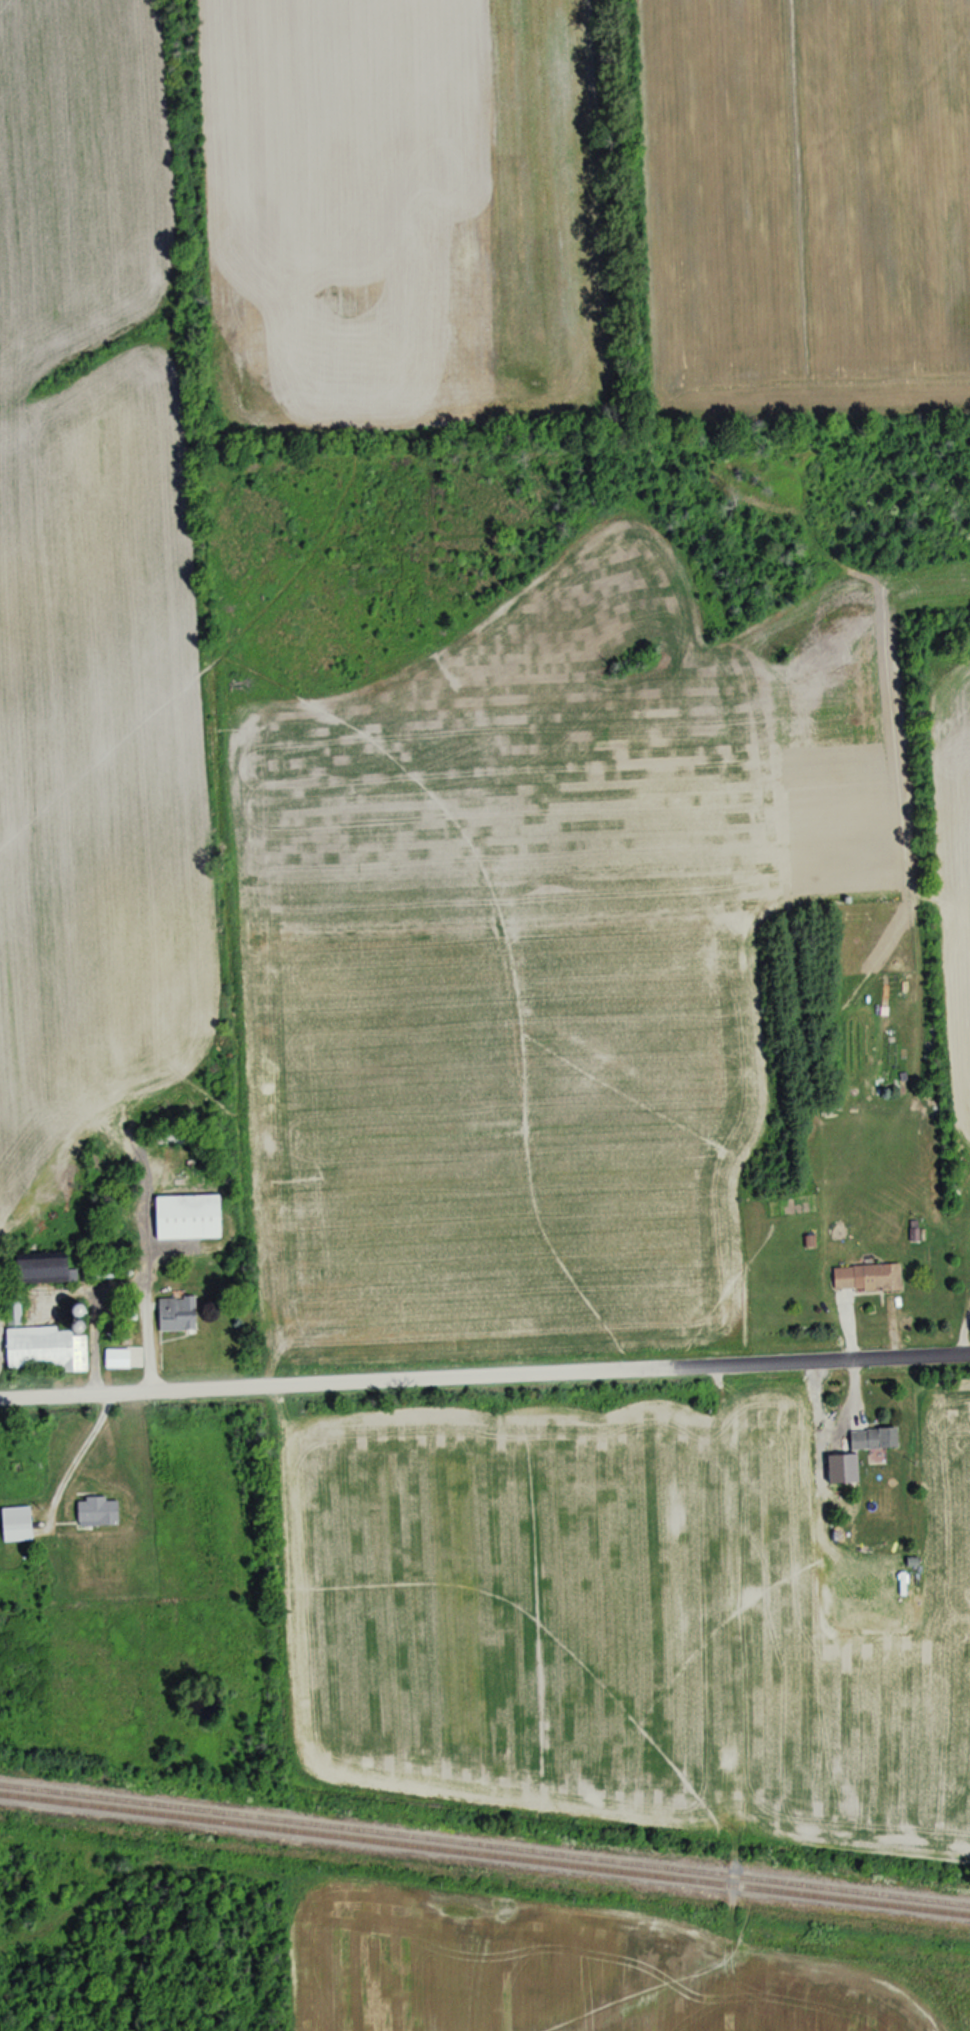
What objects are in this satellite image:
building: (183, 1218)
building: (36, 1270)
building: (864, 1278)
road: (142, 1287)
building: (174, 1314)
building: (42, 1344)
road: (838, 1363)
road: (353, 1383)
building: (870, 1439)
road: (71, 1455)
building: (94, 1512)
building: (13, 1524)
railway: (485, 1845)
railway: (485, 1854)

